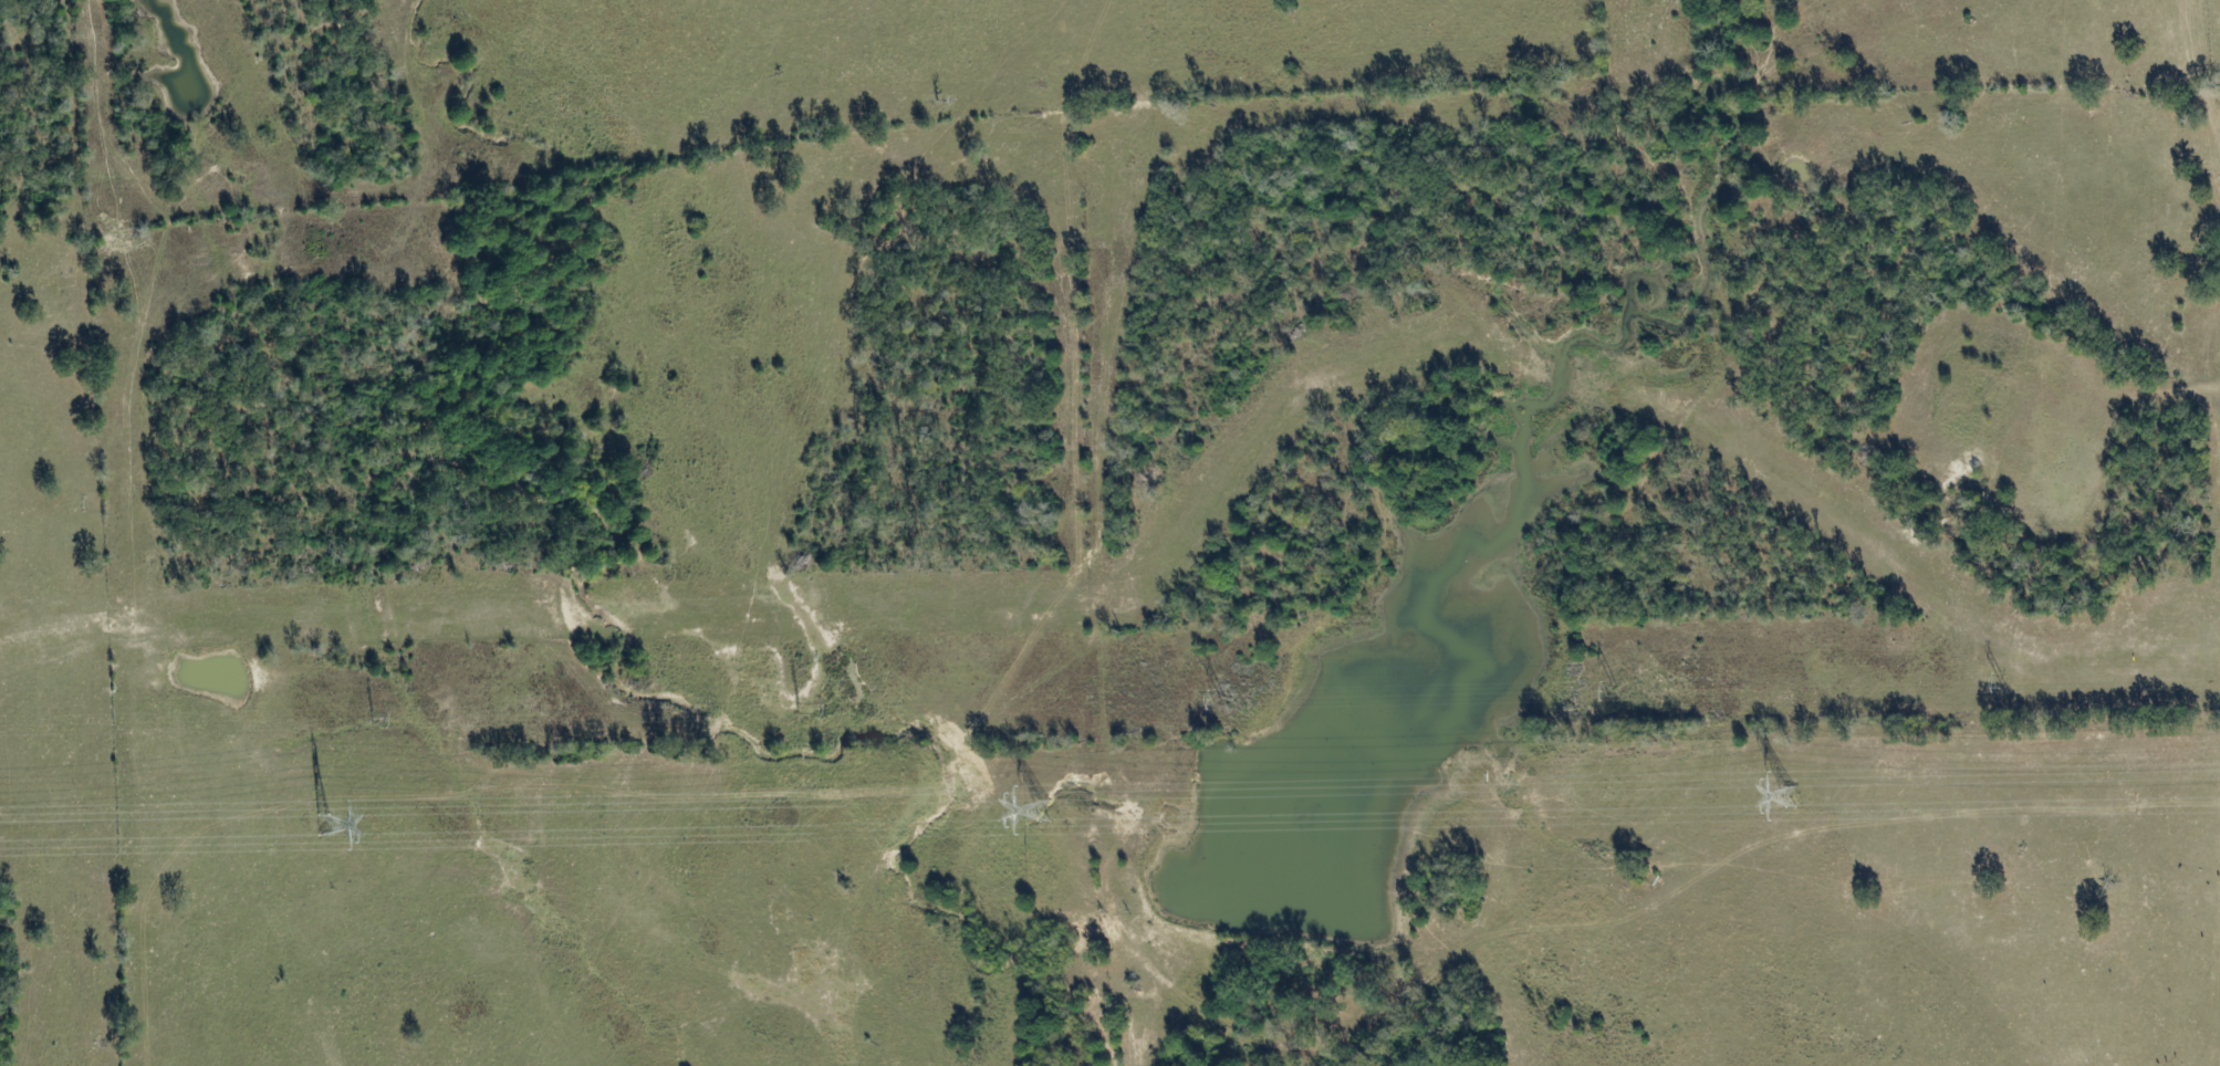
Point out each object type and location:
power tower: (2020, 687)
power tower: (1636, 692)
power tower: (1239, 700)
power tower: (815, 711)
power tower: (385, 720)
power tower: (1791, 797)
power tower: (1043, 813)
power tower: (324, 826)

